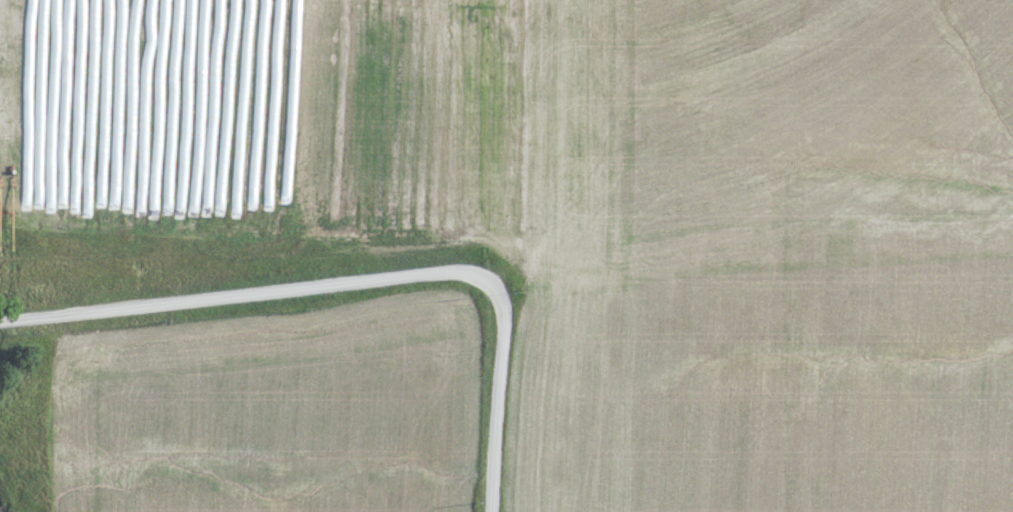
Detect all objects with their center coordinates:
building: (177, 167)
building: (195, 183)
building: (163, 197)
building: (53, 213)
building: (69, 213)
building: (85, 214)
building: (37, 218)
building: (135, 221)
building: (152, 222)
building: (119, 224)
road: (362, 284)

